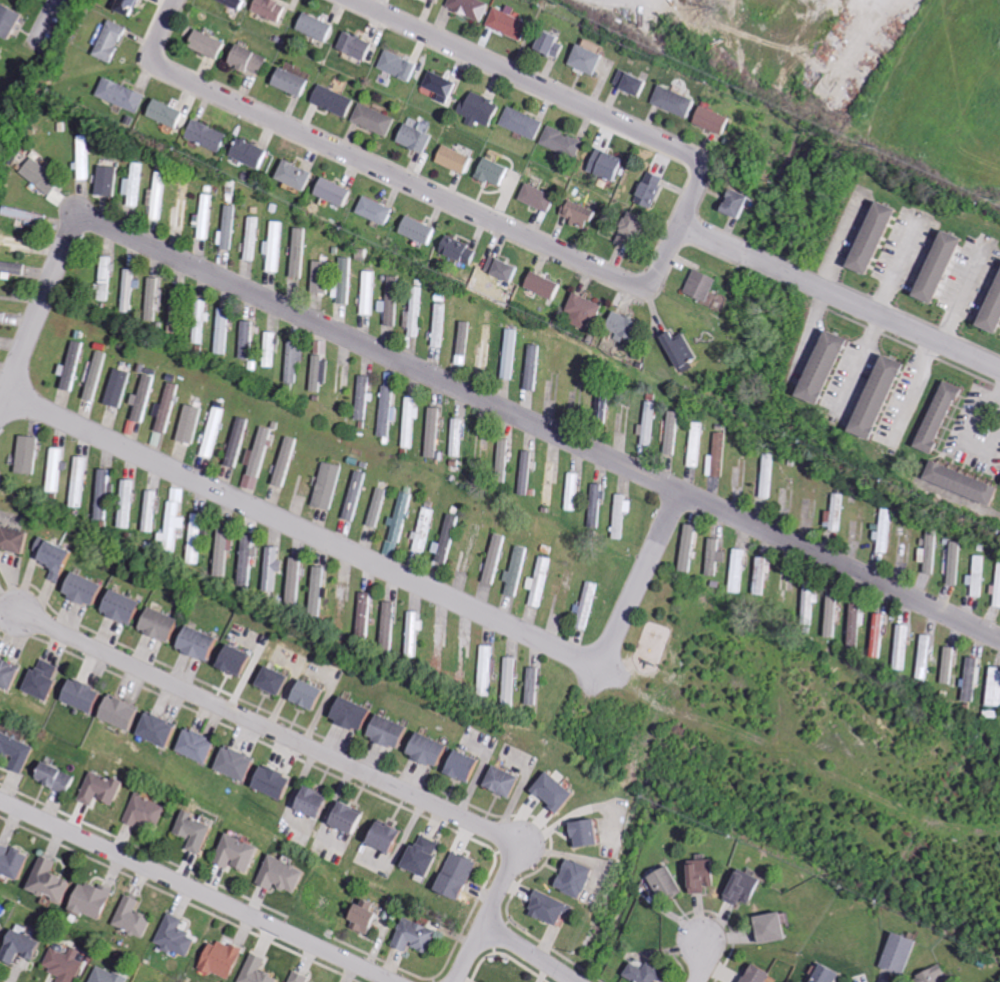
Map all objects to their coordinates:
building: (441, 0)
building: (242, 3)
building: (132, 6)
building: (273, 8)
building: (473, 8)
building: (12, 19)
building: (512, 23)
building: (320, 26)
building: (113, 41)
building: (557, 42)
building: (213, 43)
building: (360, 45)
building: (1, 50)
building: (253, 58)
building: (591, 59)
building: (403, 65)
building: (297, 81)
building: (637, 82)
building: (446, 85)
building: (125, 94)
building: (336, 100)
building: (677, 101)
building: (484, 109)
building: (172, 114)
building: (377, 119)
building: (717, 119)
building: (525, 122)
building: (212, 136)
building: (420, 137)
building: (565, 141)
building: (255, 152)
building: (85, 157)
building: (460, 158)
building: (614, 164)
building: (498, 171)
building: (301, 174)
building: (44, 176)
building: (108, 180)
building: (134, 185)
building: (654, 188)
building: (339, 191)
building: (158, 195)
building: (544, 197)
building: (742, 203)
building: (182, 207)
building: (381, 209)
building: (583, 212)
building: (26, 215)
building: (206, 216)
building: (230, 226)
building: (422, 229)
building: (636, 230)
building: (864, 237)
building: (254, 238)
road: (843, 239)
building: (277, 246)
building: (463, 249)
building: (301, 252)
road: (898, 261)
building: (928, 266)
building: (14, 268)
building: (507, 268)
building: (110, 269)
road: (604, 269)
building: (322, 276)
building: (547, 284)
building: (706, 284)
building: (132, 289)
building: (345, 291)
building: (370, 292)
road: (840, 294)
road: (965, 295)
building: (154, 298)
building: (392, 301)
building: (988, 302)
road: (36, 306)
building: (178, 307)
building: (590, 311)
building: (416, 313)
building: (4, 316)
building: (441, 325)
building: (629, 326)
building: (224, 330)
road: (808, 332)
building: (202, 333)
building: (248, 339)
building: (686, 350)
building: (513, 353)
building: (295, 361)
road: (860, 362)
building: (75, 364)
building: (815, 366)
building: (535, 367)
building: (320, 372)
road: (912, 384)
building: (119, 387)
road: (997, 393)
building: (144, 397)
building: (364, 397)
building: (870, 397)
road: (997, 400)
building: (167, 408)
building: (387, 410)
building: (931, 416)
building: (411, 420)
building: (190, 423)
road: (540, 423)
building: (652, 424)
building: (215, 431)
building: (434, 432)
building: (674, 434)
road: (963, 435)
building: (458, 437)
building: (238, 441)
building: (699, 444)
building: (31, 454)
building: (720, 456)
building: (258, 458)
building: (286, 461)
building: (58, 469)
building: (528, 472)
building: (769, 475)
building: (82, 481)
building: (954, 482)
building: (552, 483)
building: (329, 485)
building: (576, 491)
building: (105, 494)
building: (355, 494)
building: (129, 503)
building: (598, 505)
building: (152, 510)
building: (624, 514)
building: (402, 515)
building: (835, 524)
road: (301, 526)
building: (426, 529)
building: (199, 538)
building: (449, 538)
building: (22, 540)
building: (393, 548)
building: (692, 548)
building: (228, 549)
building: (930, 552)
building: (716, 556)
building: (61, 558)
building: (249, 561)
building: (951, 562)
building: (496, 563)
building: (276, 568)
building: (518, 570)
building: (740, 570)
building: (763, 574)
road: (638, 575)
building: (297, 580)
building: (541, 581)
building: (92, 589)
building: (131, 607)
road: (12, 608)
building: (366, 613)
building: (830, 618)
building: (390, 622)
building: (169, 624)
building: (854, 625)
building: (417, 632)
building: (878, 636)
building: (207, 644)
building: (901, 647)
building: (924, 657)
building: (241, 661)
building: (948, 665)
building: (489, 670)
building: (11, 673)
building: (970, 678)
building: (47, 680)
building: (511, 680)
building: (280, 681)
building: (533, 685)
building: (313, 694)
building: (89, 695)
building: (126, 712)
building: (356, 713)
road: (272, 726)
building: (164, 730)
building: (395, 732)
building: (204, 746)
building: (434, 750)
building: (18, 751)
building: (242, 764)
building: (469, 767)
building: (60, 777)
building: (507, 781)
building: (282, 783)
building: (104, 789)
building: (560, 792)
building: (321, 802)
building: (149, 812)
building: (354, 817)
building: (198, 831)
building: (593, 834)
building: (392, 836)
building: (242, 854)
building: (429, 857)
building: (15, 860)
building: (707, 874)
building: (287, 875)
building: (463, 875)
building: (581, 878)
building: (54, 880)
building: (670, 885)
road: (201, 888)
building: (97, 900)
building: (553, 908)
road: (489, 912)
building: (136, 917)
building: (775, 928)
building: (1, 935)
building: (420, 936)
building: (178, 937)
building: (25, 946)
road: (533, 951)
building: (895, 954)
road: (703, 958)
building: (226, 959)
building: (66, 964)
building: (260, 970)
building: (651, 973)
building: (760, 974)
building: (821, 974)
building: (108, 976)
building: (926, 976)
building: (302, 977)

